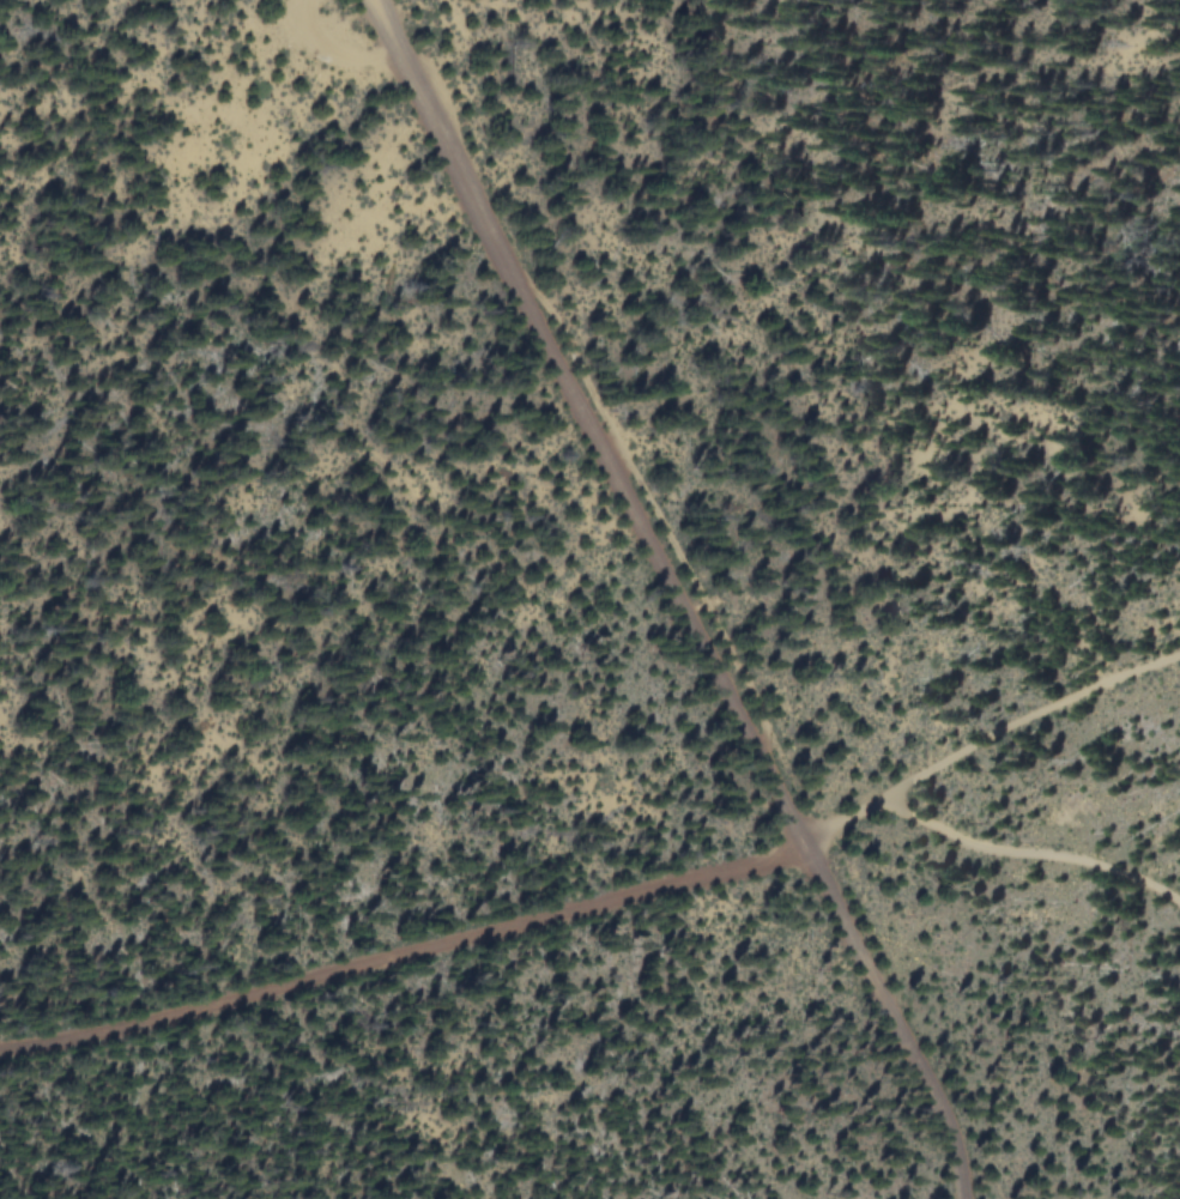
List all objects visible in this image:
road: (683, 592)
road: (1027, 719)
road: (994, 849)
road: (410, 949)

